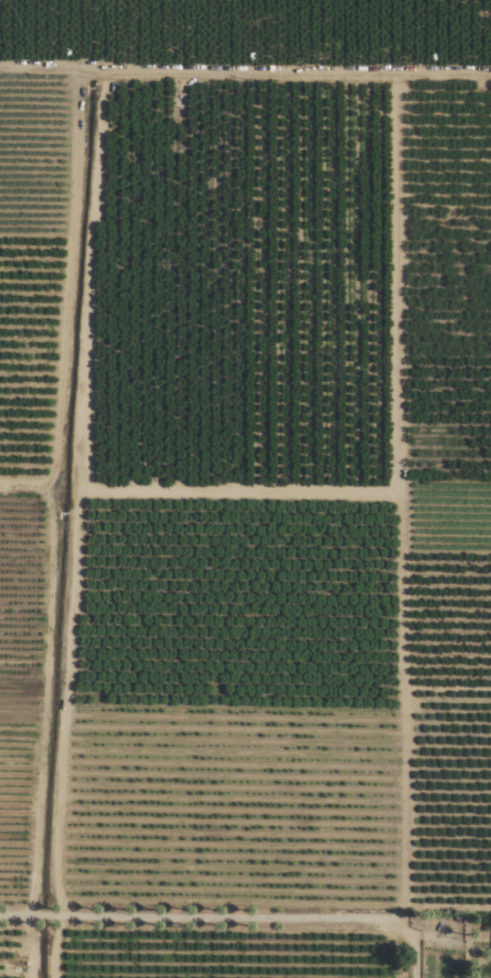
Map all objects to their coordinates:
road: (199, 912)
road: (411, 940)

